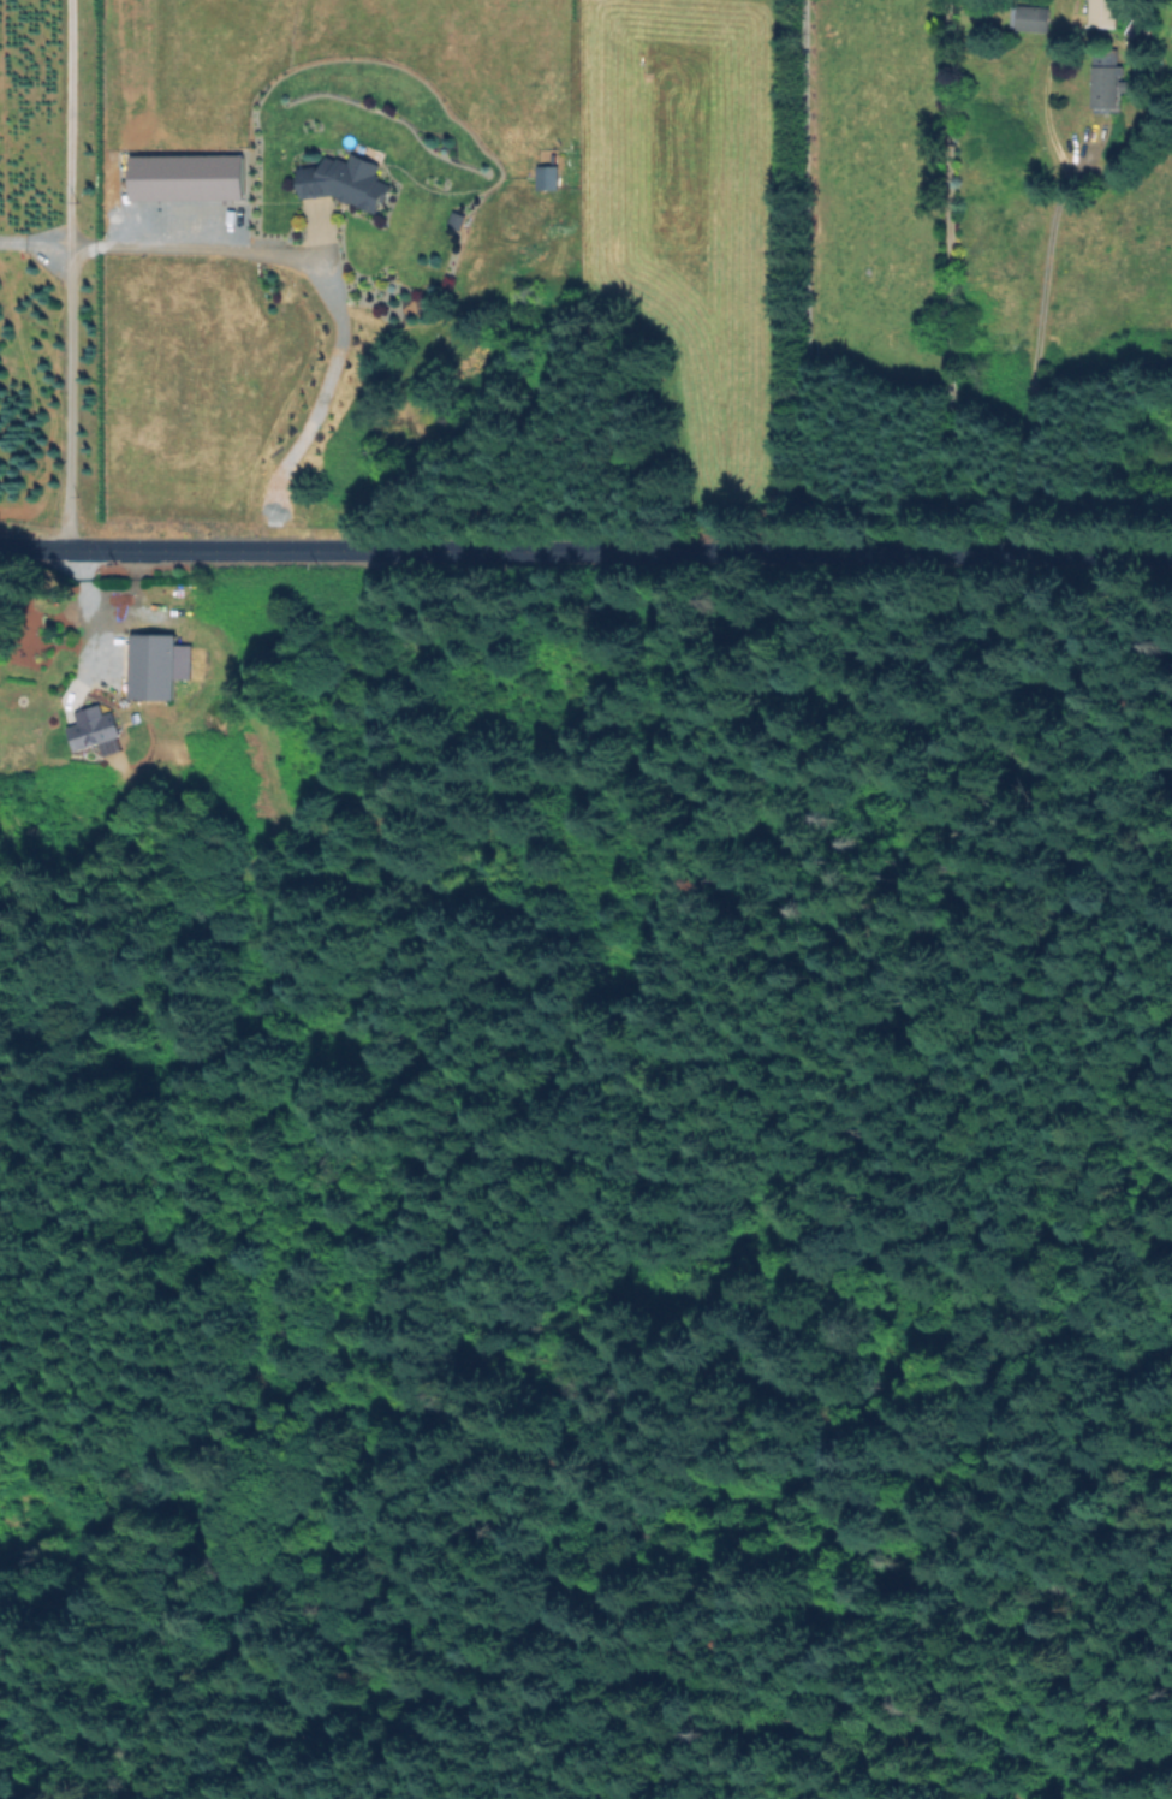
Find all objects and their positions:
building: (1105, 10)
building: (1034, 11)
building: (1025, 22)
building: (1134, 31)
building: (1111, 69)
building: (548, 170)
building: (344, 173)
building: (458, 213)
road: (196, 237)
road: (32, 243)
road: (64, 273)
road: (804, 278)
road: (1031, 367)
road: (585, 553)
building: (159, 658)
building: (91, 719)

